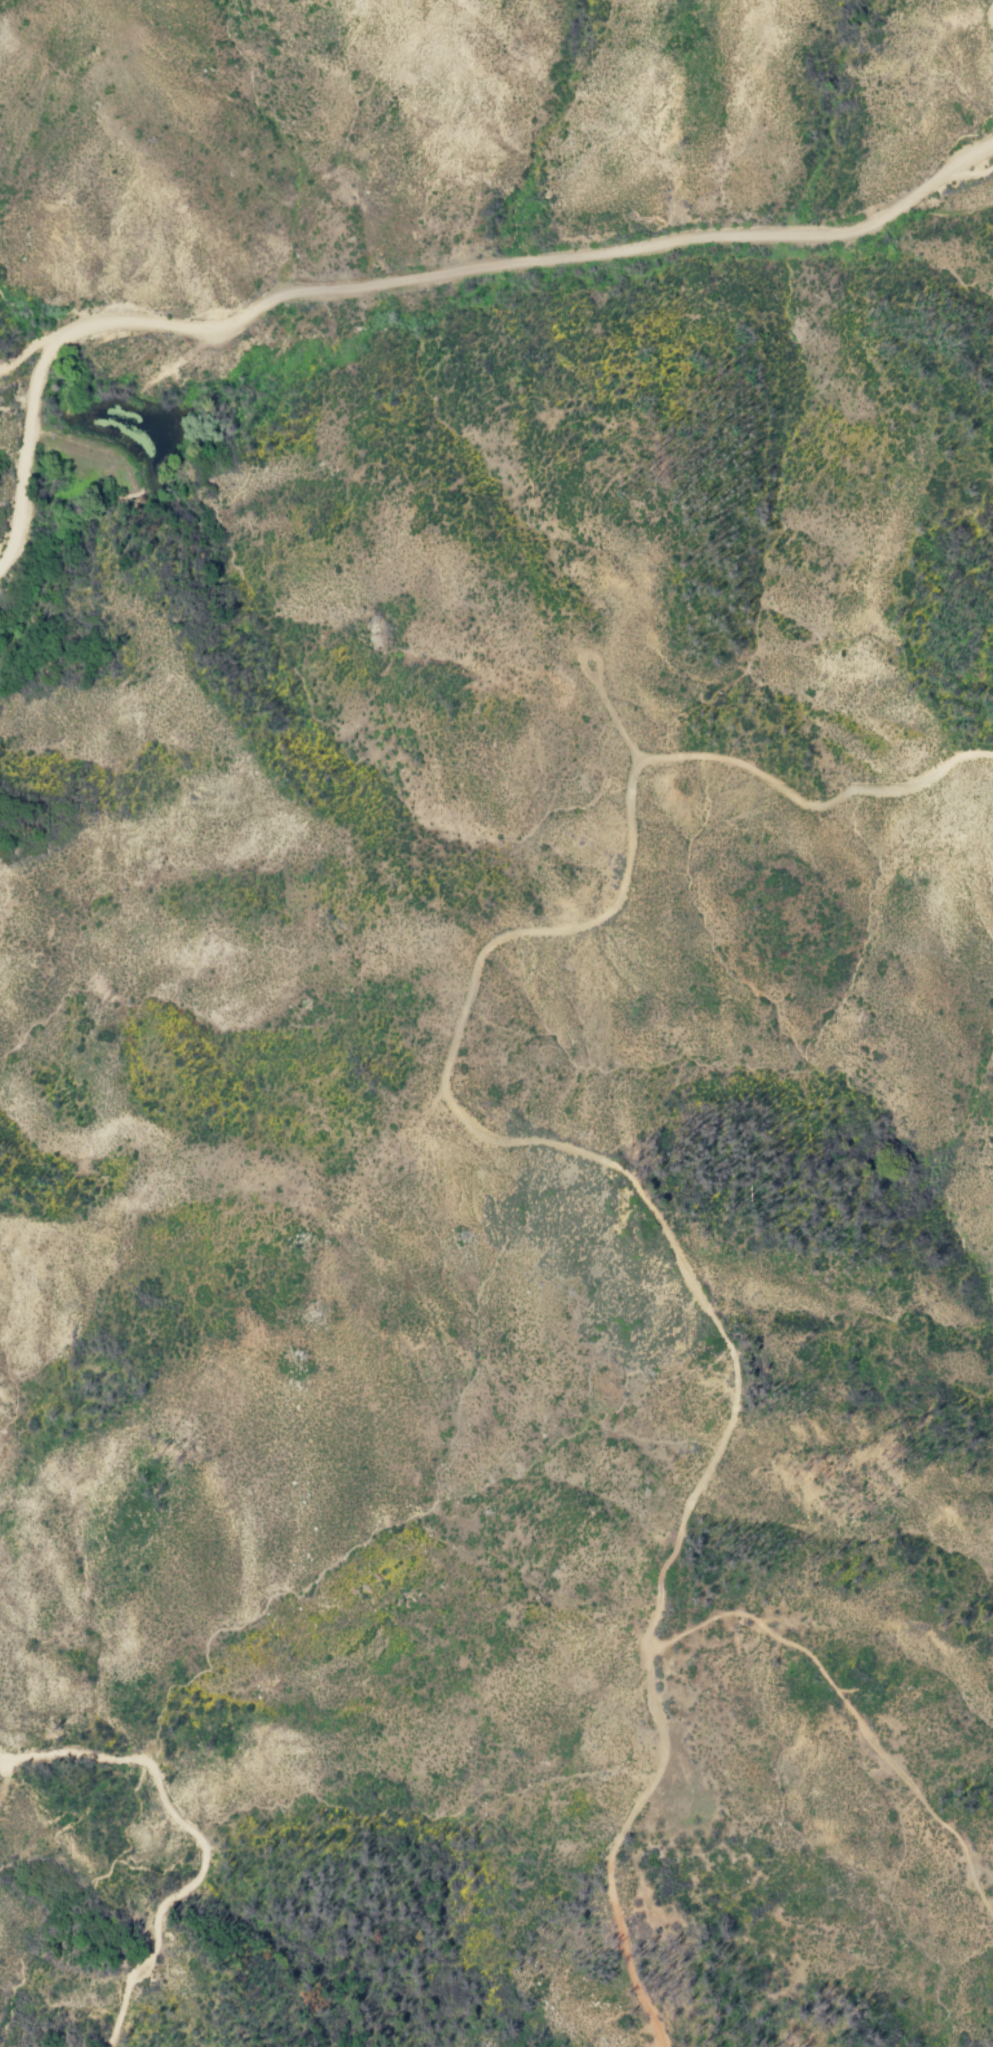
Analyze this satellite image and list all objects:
road: (966, 179)
road: (530, 262)
road: (29, 354)
road: (90, 448)
road: (23, 451)
road: (599, 690)
road: (851, 1707)

